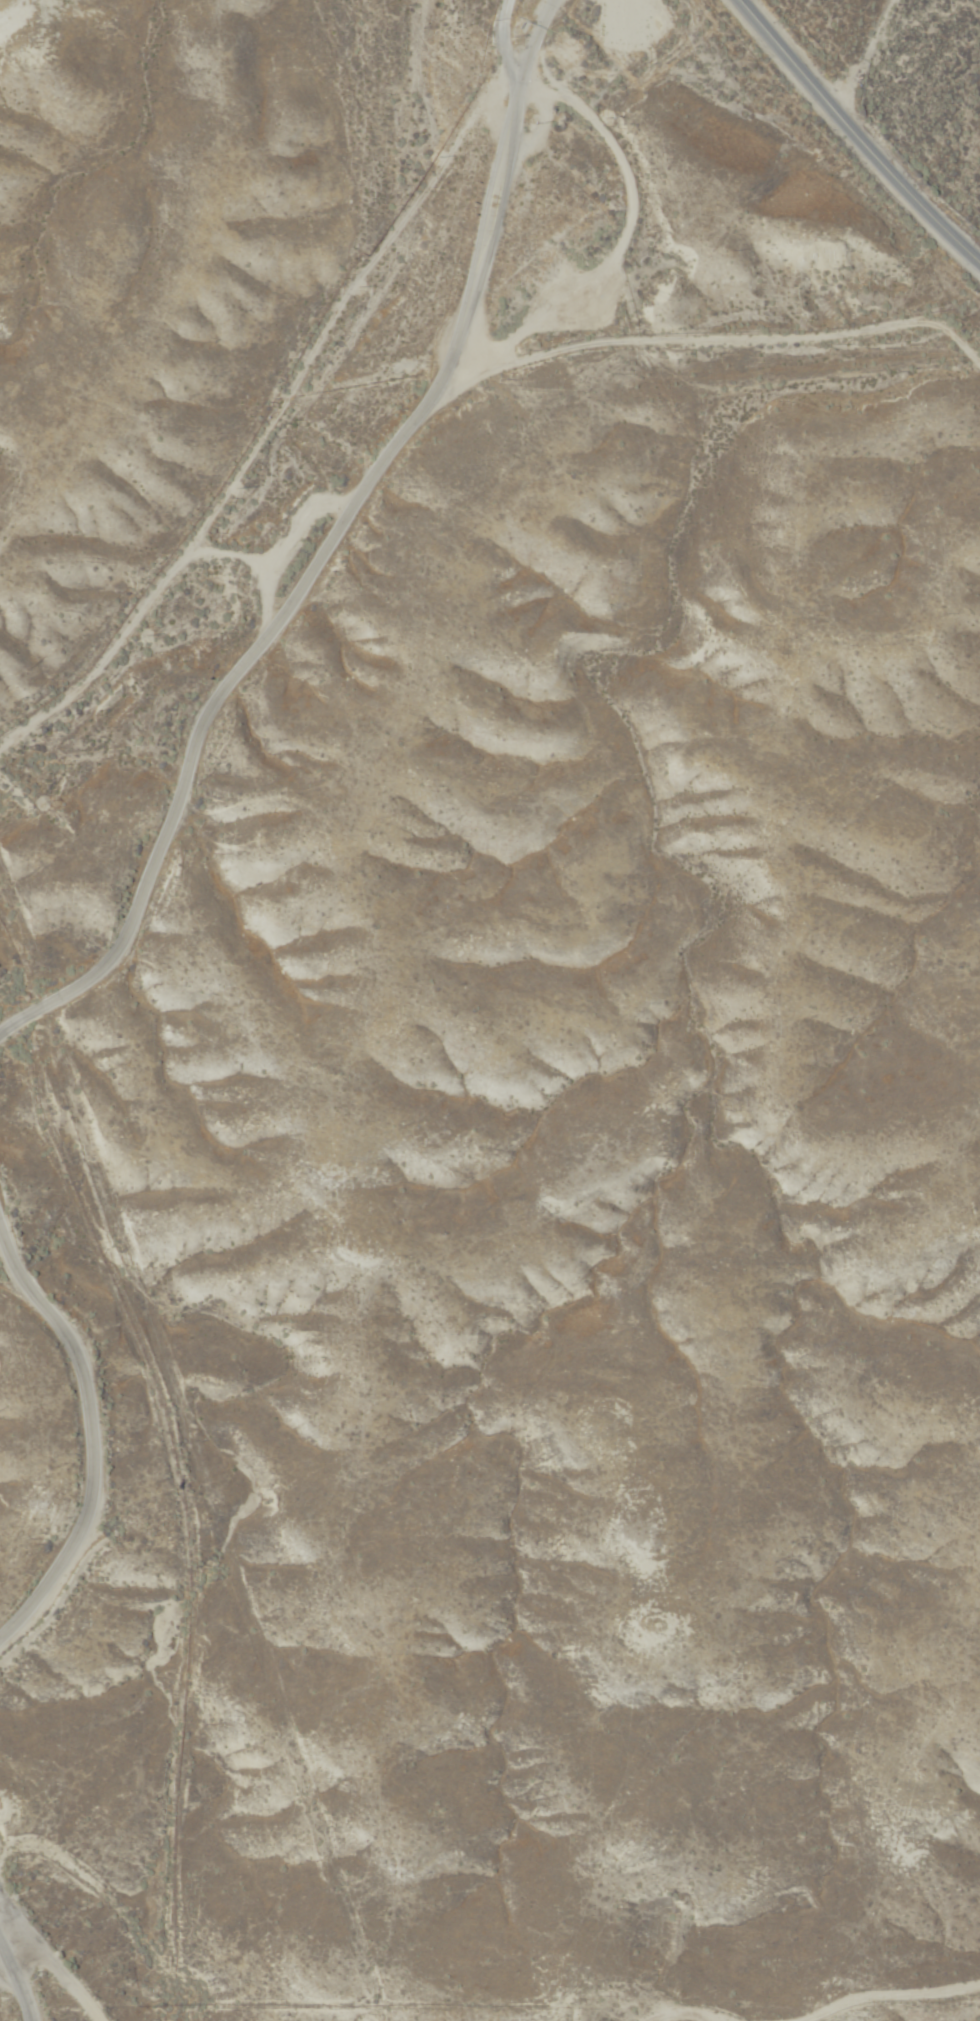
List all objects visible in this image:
road: (500, 41)
road: (876, 60)
road: (853, 130)
road: (266, 419)
road: (322, 550)
road: (95, 1438)
road: (52, 1971)
road: (17, 1984)

